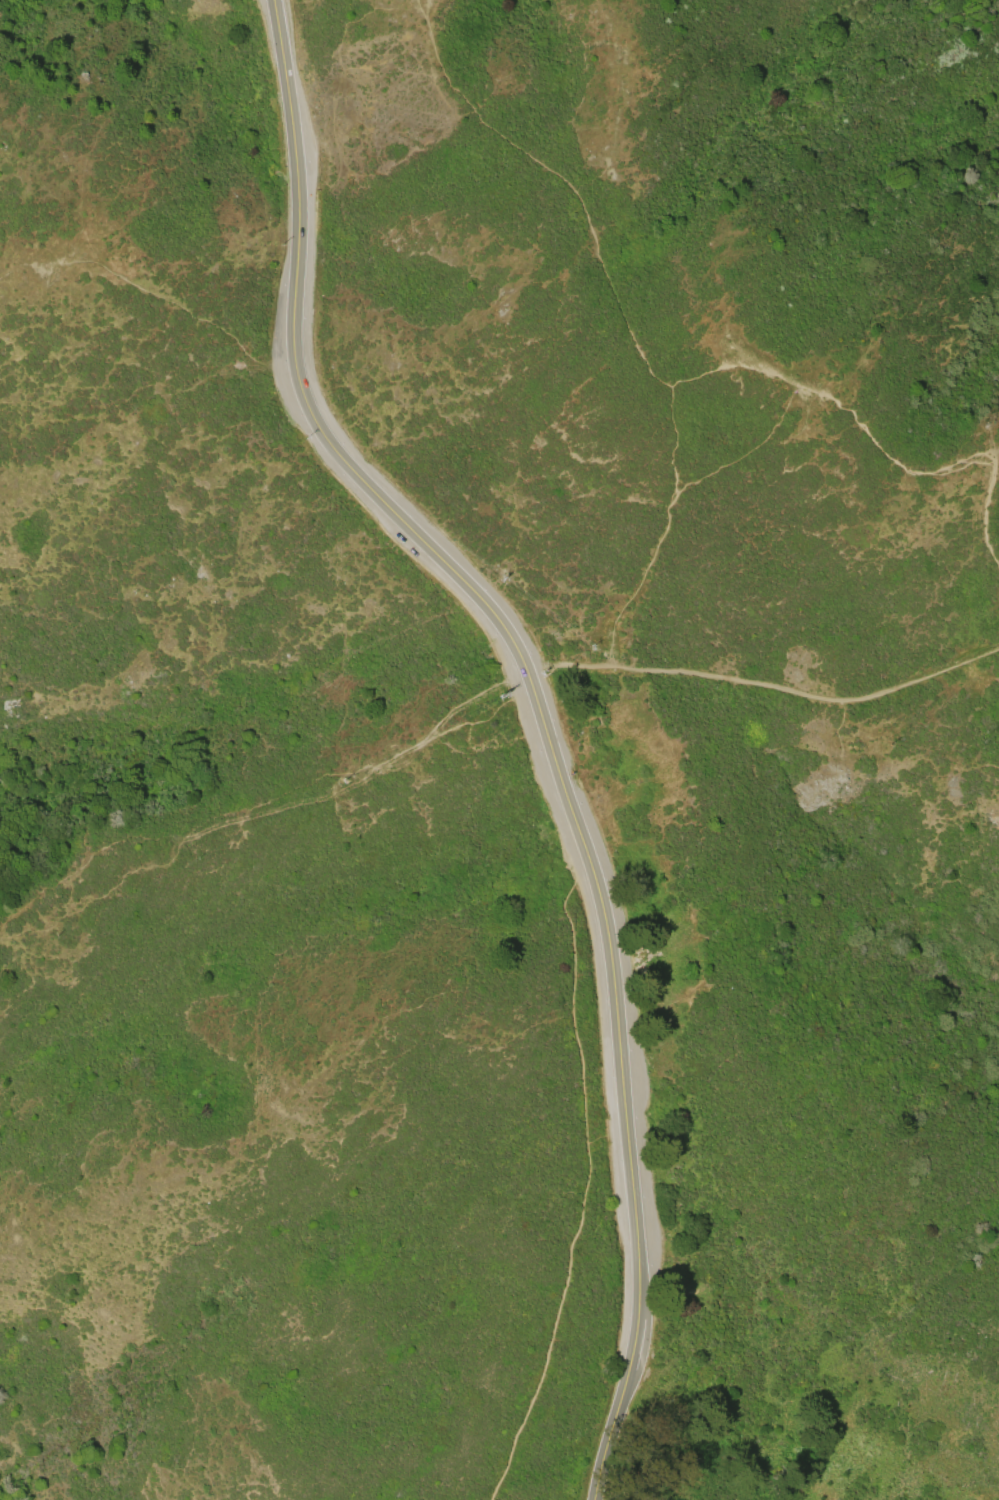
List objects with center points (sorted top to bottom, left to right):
road: (641, 344)
road: (744, 458)
road: (993, 525)
road: (669, 529)
road: (766, 687)
road: (539, 714)
road: (582, 1183)

